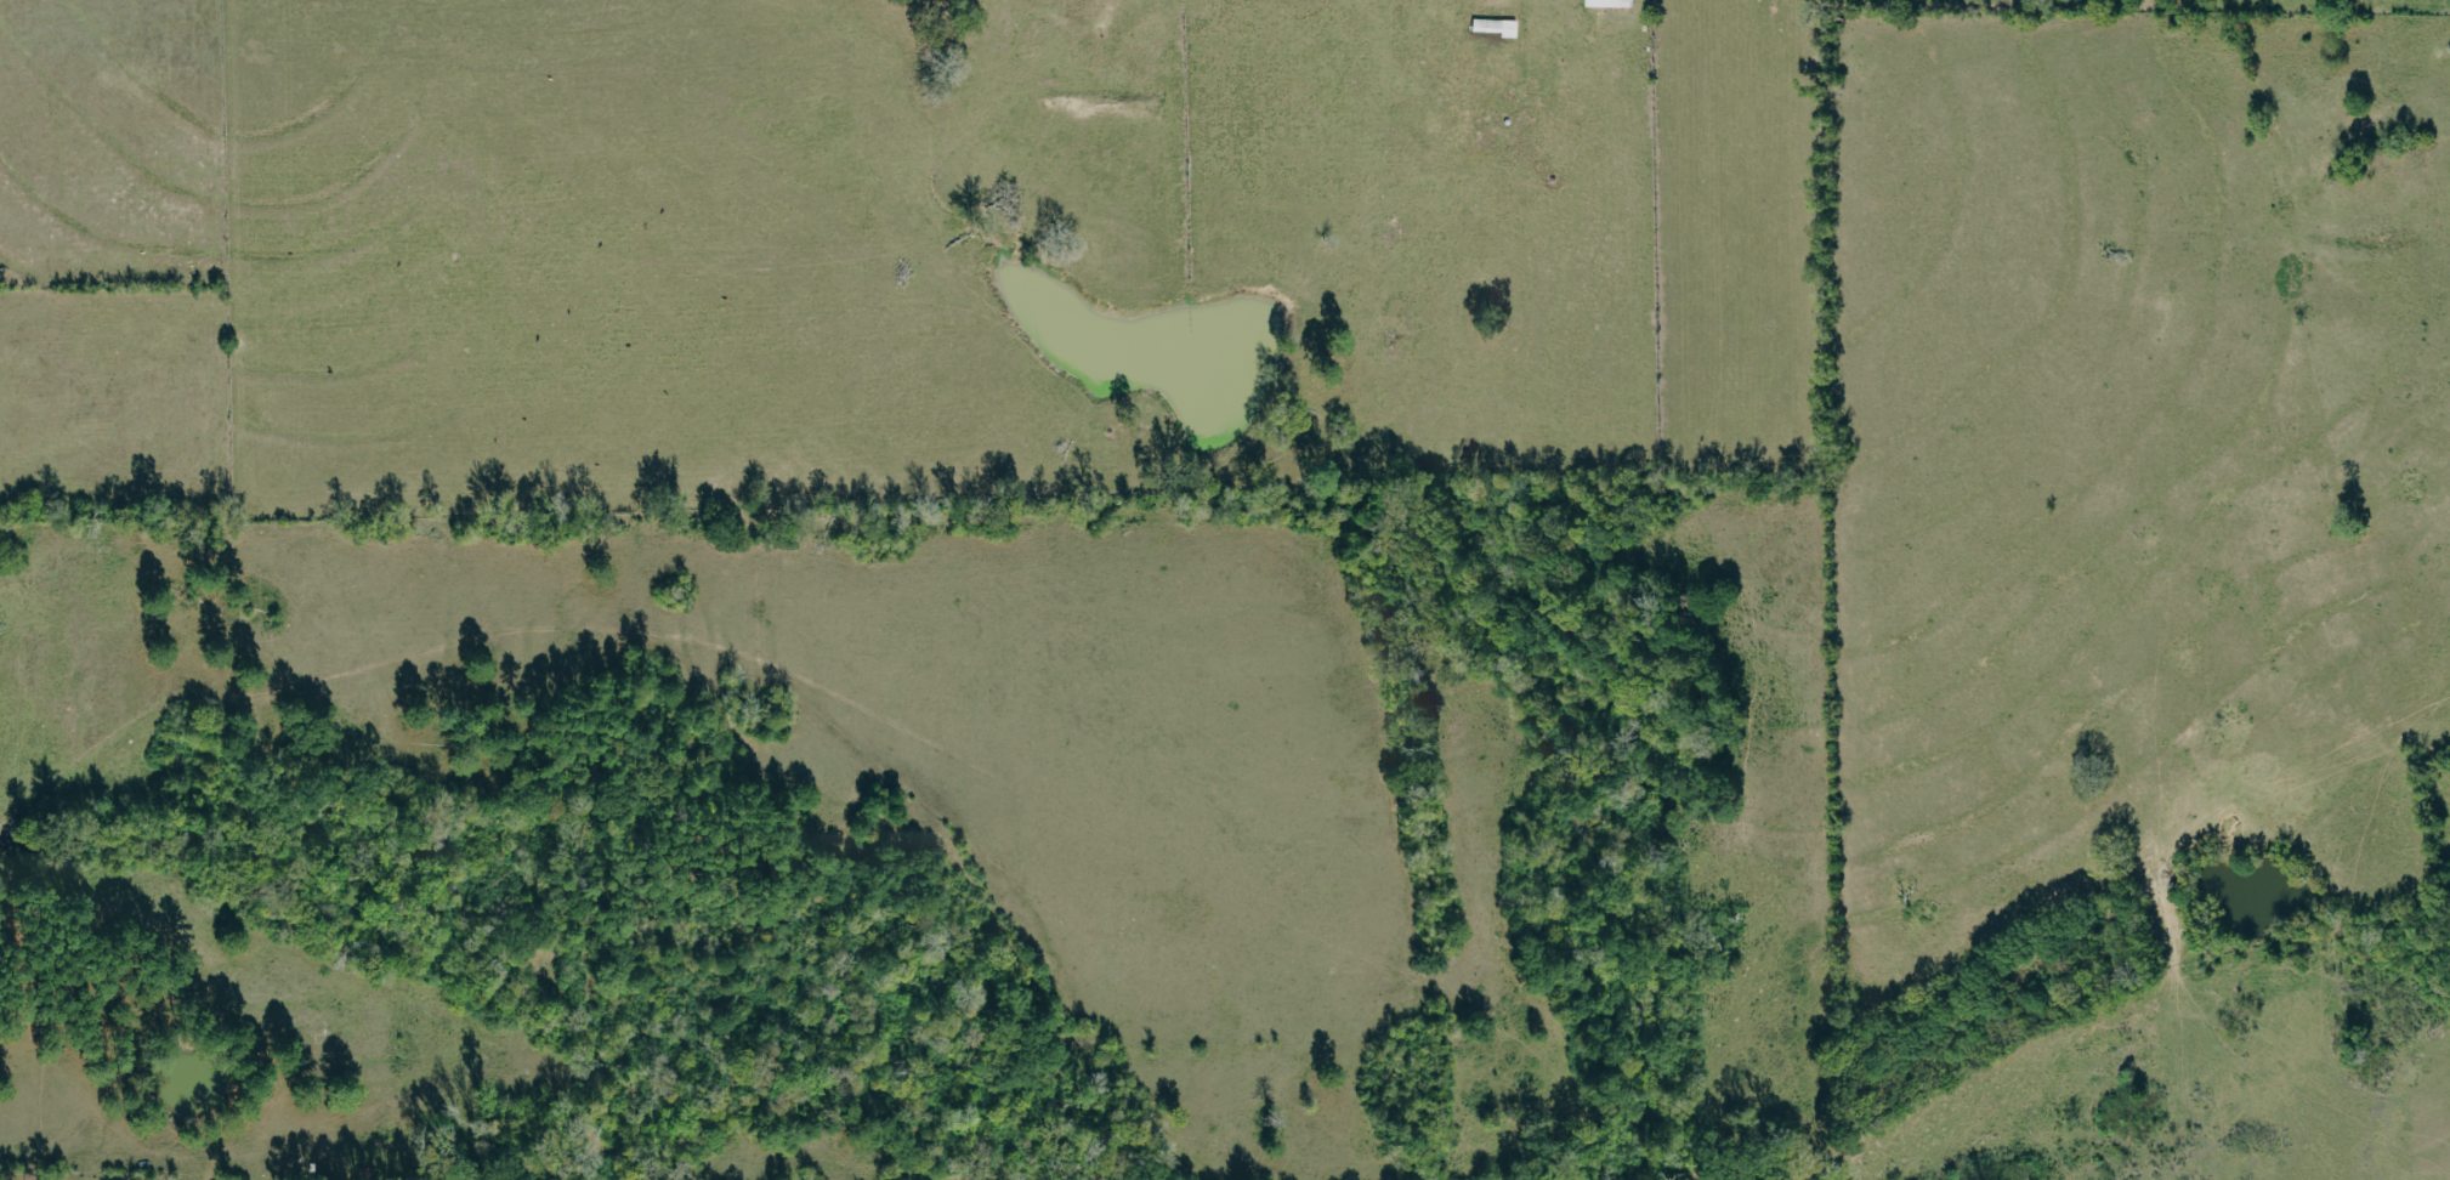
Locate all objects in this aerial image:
building: (1607, 2)

